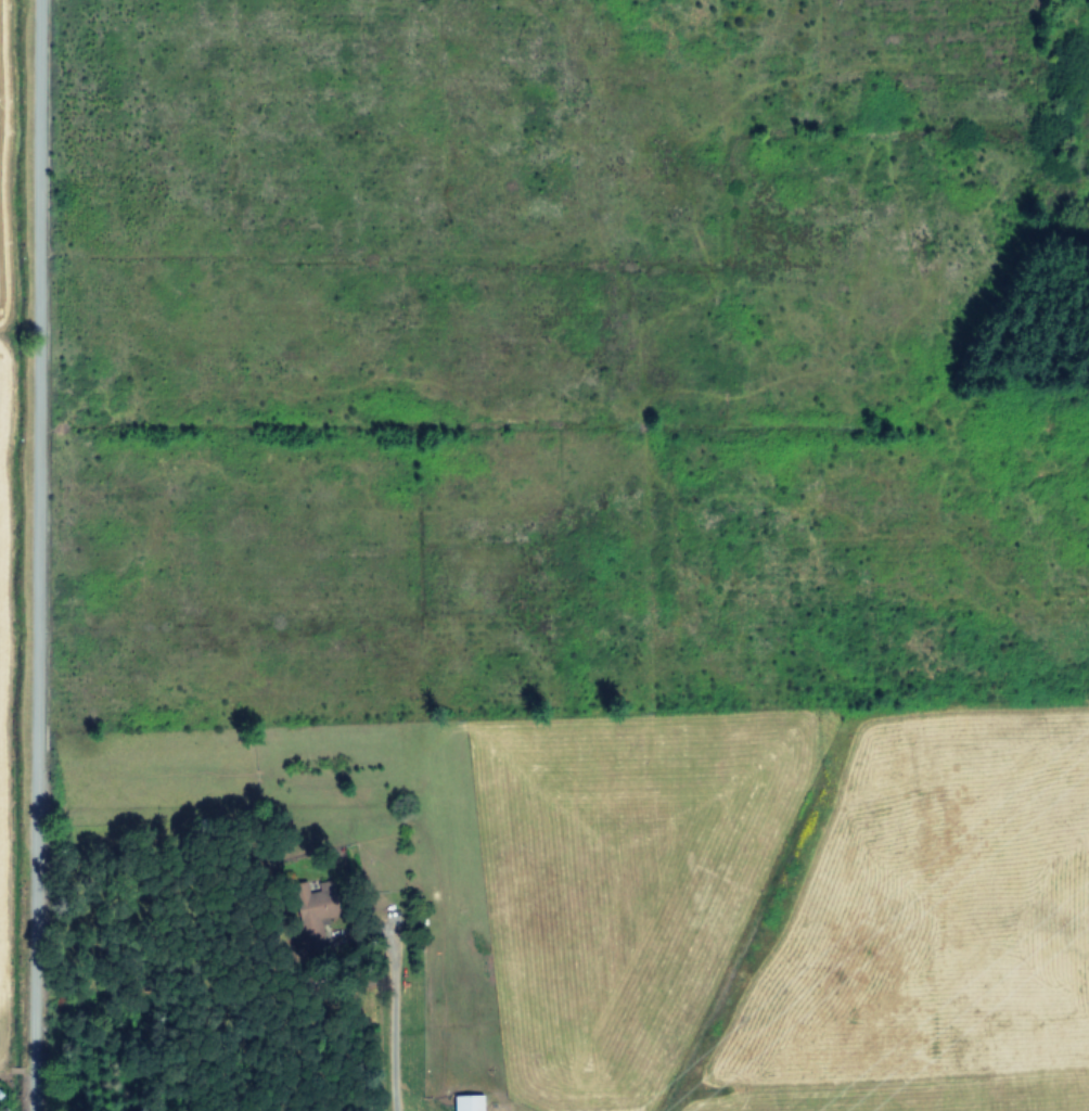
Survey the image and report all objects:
crop: (580, 511)
road: (30, 555)
road: (386, 1062)
building: (472, 1101)

